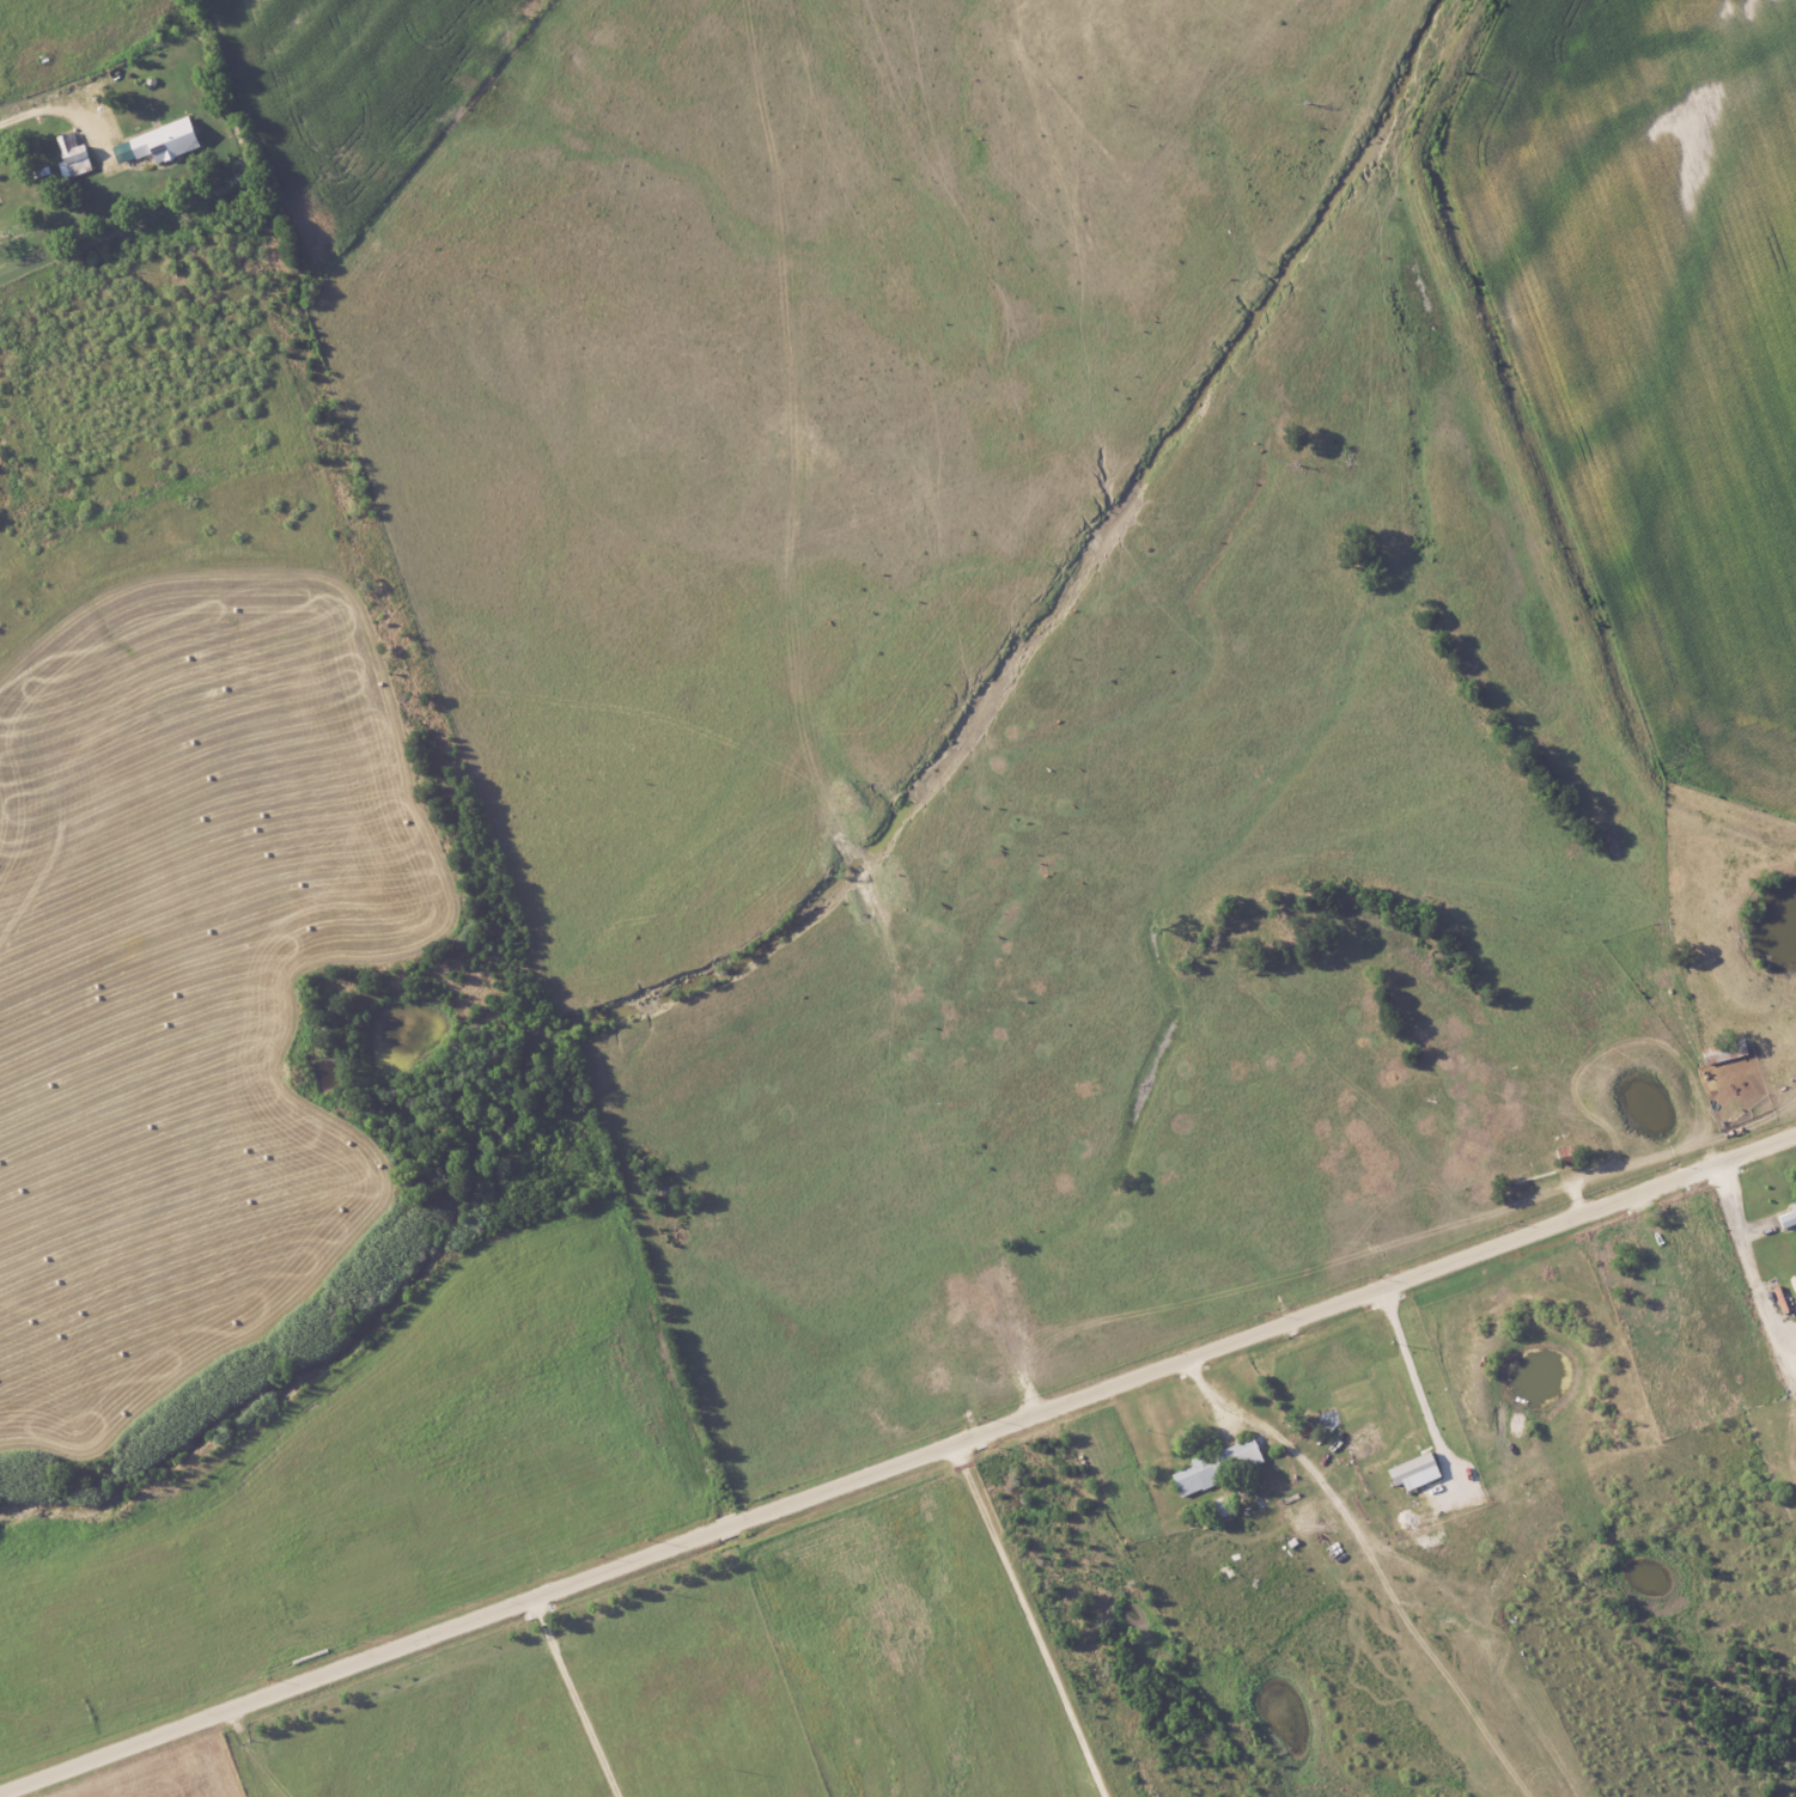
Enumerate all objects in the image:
road: (34, 111)
building: (163, 141)
building: (69, 156)
building: (1786, 1218)
road: (1747, 1259)
building: (1792, 1283)
road: (1417, 1389)
building: (1217, 1466)
road: (900, 1470)
building: (1412, 1472)
road: (1371, 1560)
road: (1031, 1624)
road: (566, 1700)

